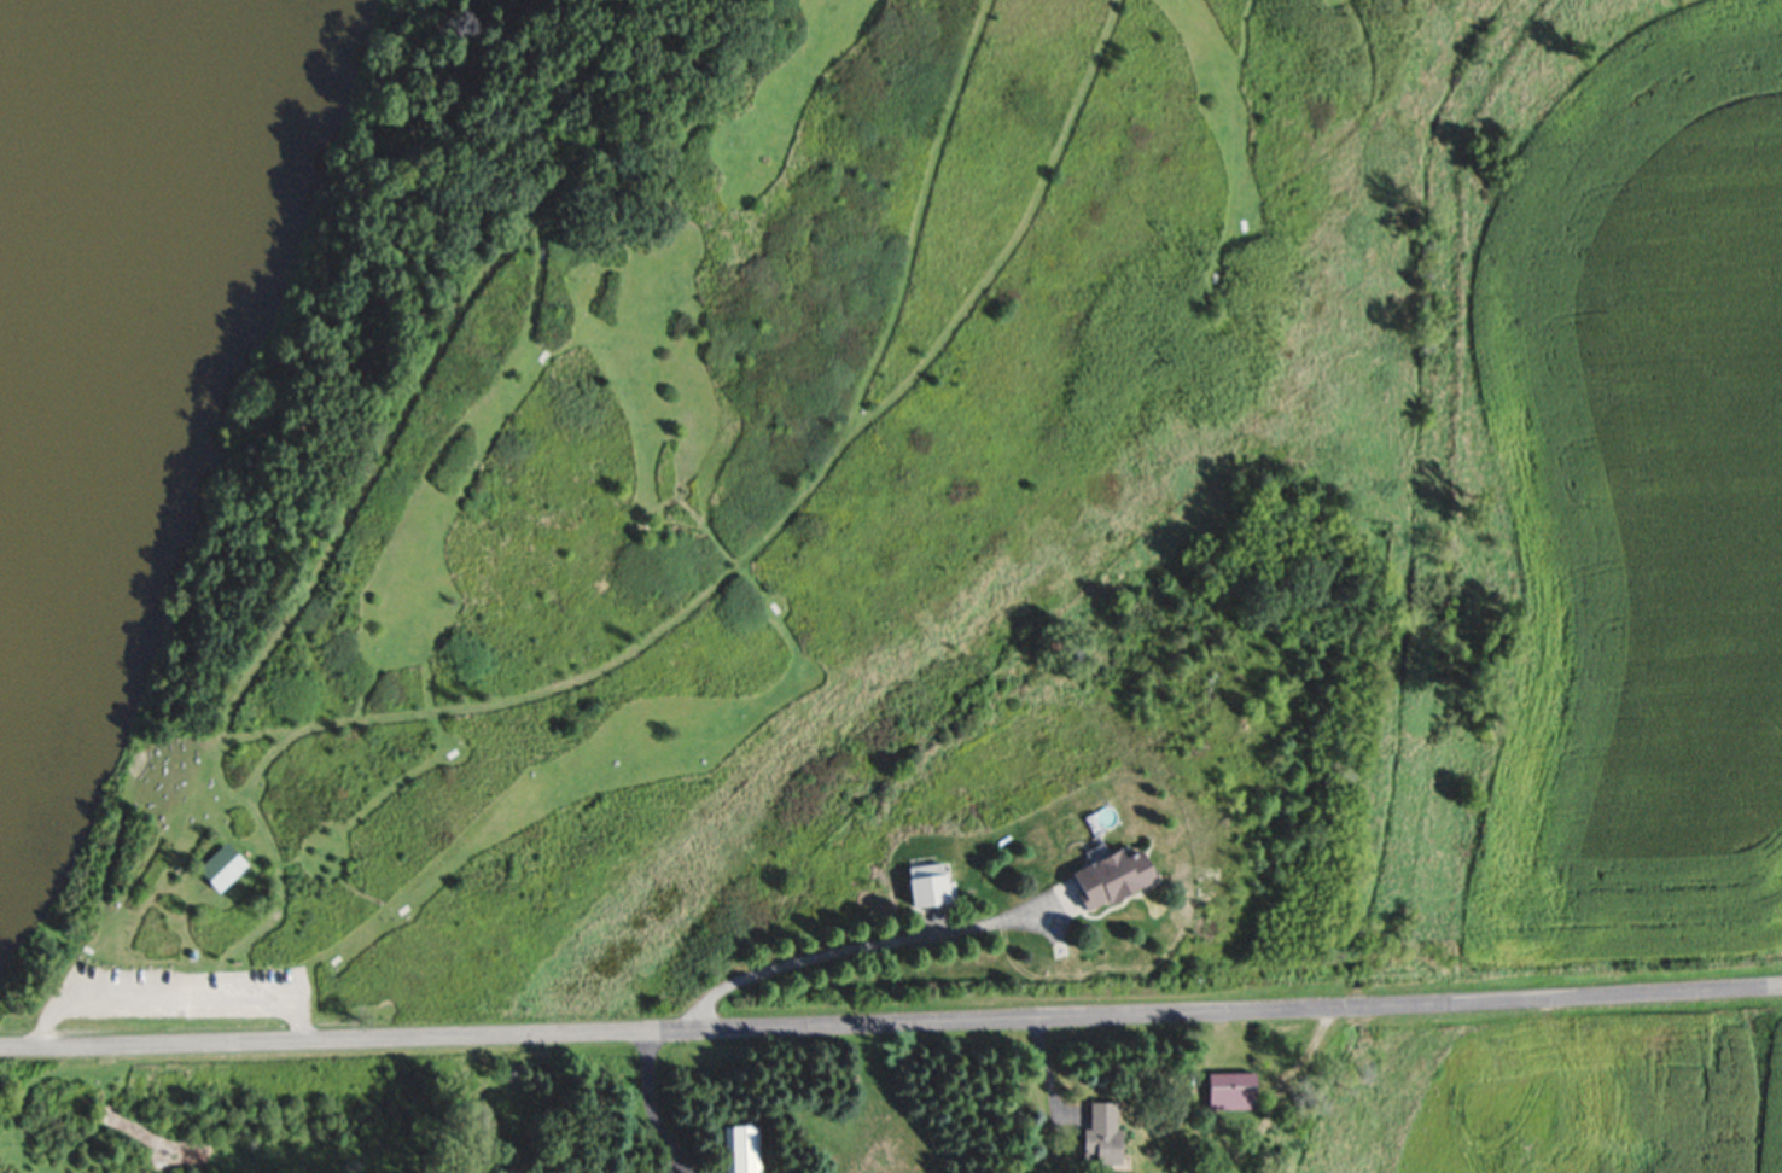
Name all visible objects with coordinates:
road: (441, 467)
park: (676, 513)
road: (782, 520)
road: (299, 595)
road: (427, 766)
road: (273, 857)
building: (216, 874)
building: (1108, 876)
building: (924, 887)
road: (850, 947)
road: (176, 988)
road: (891, 1022)
building: (1231, 1089)
crop: (1551, 1090)
road: (653, 1104)
building: (1100, 1133)
building: (740, 1149)

